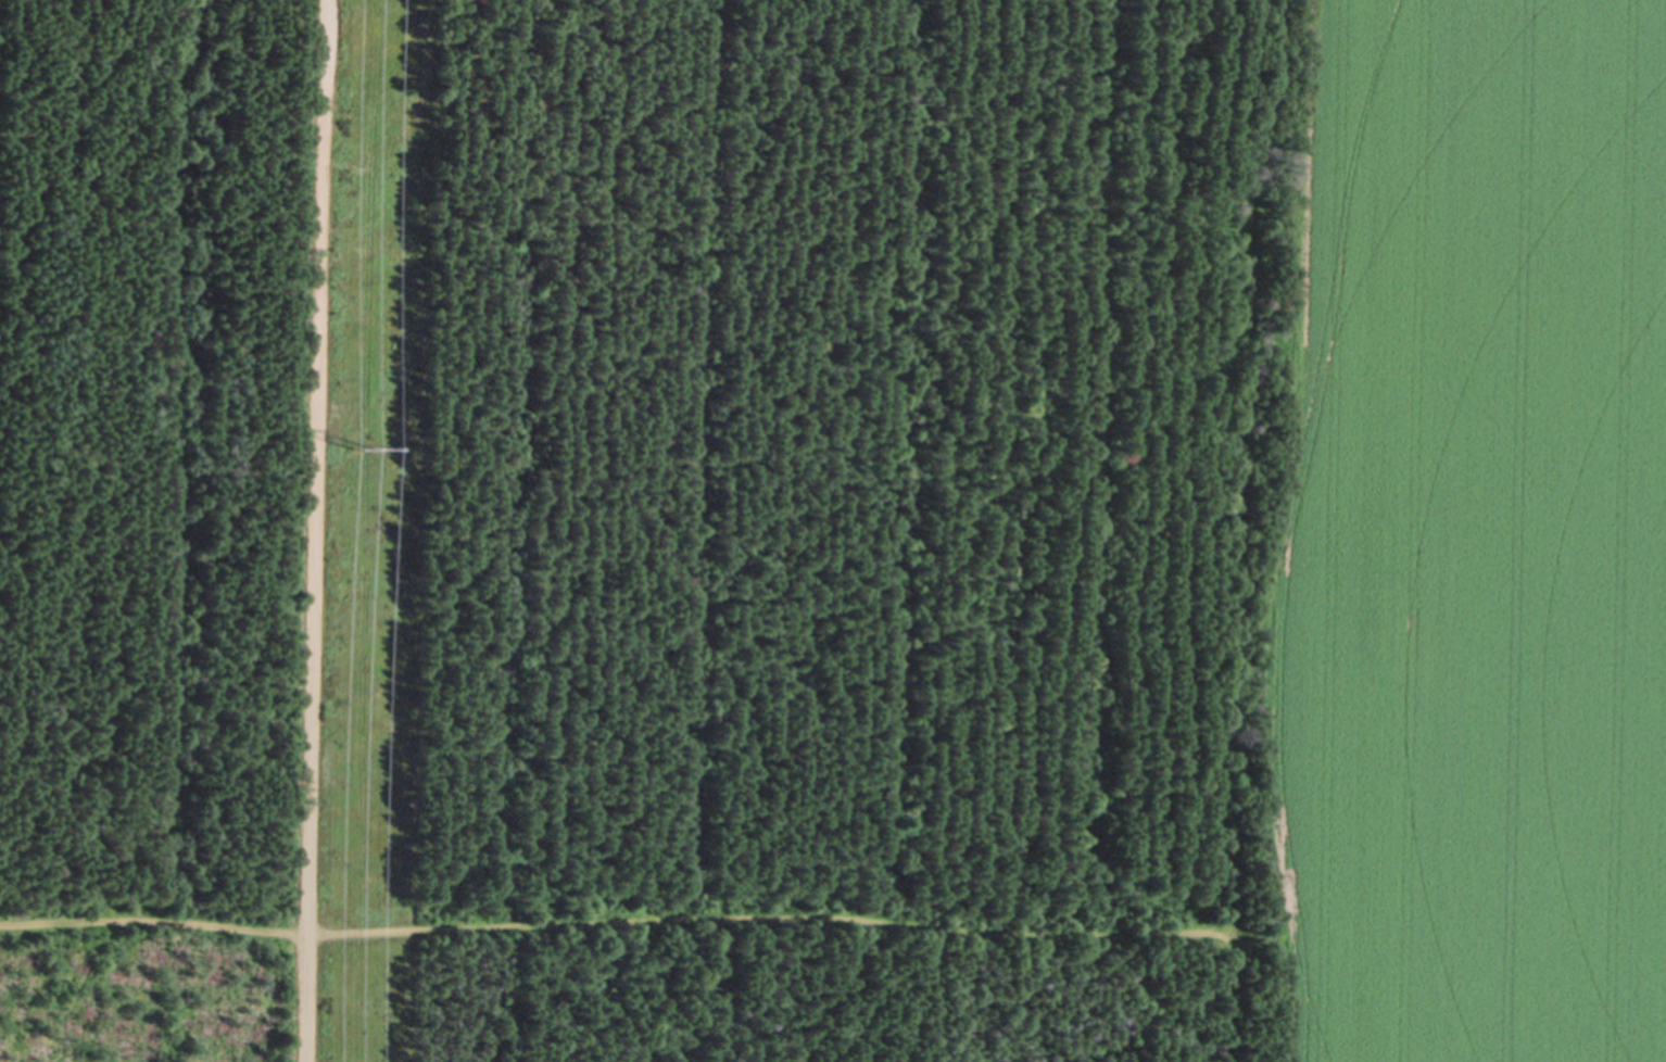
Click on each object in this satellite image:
power tower: (363, 447)
road: (319, 530)
crop: (1472, 534)
road: (614, 921)

